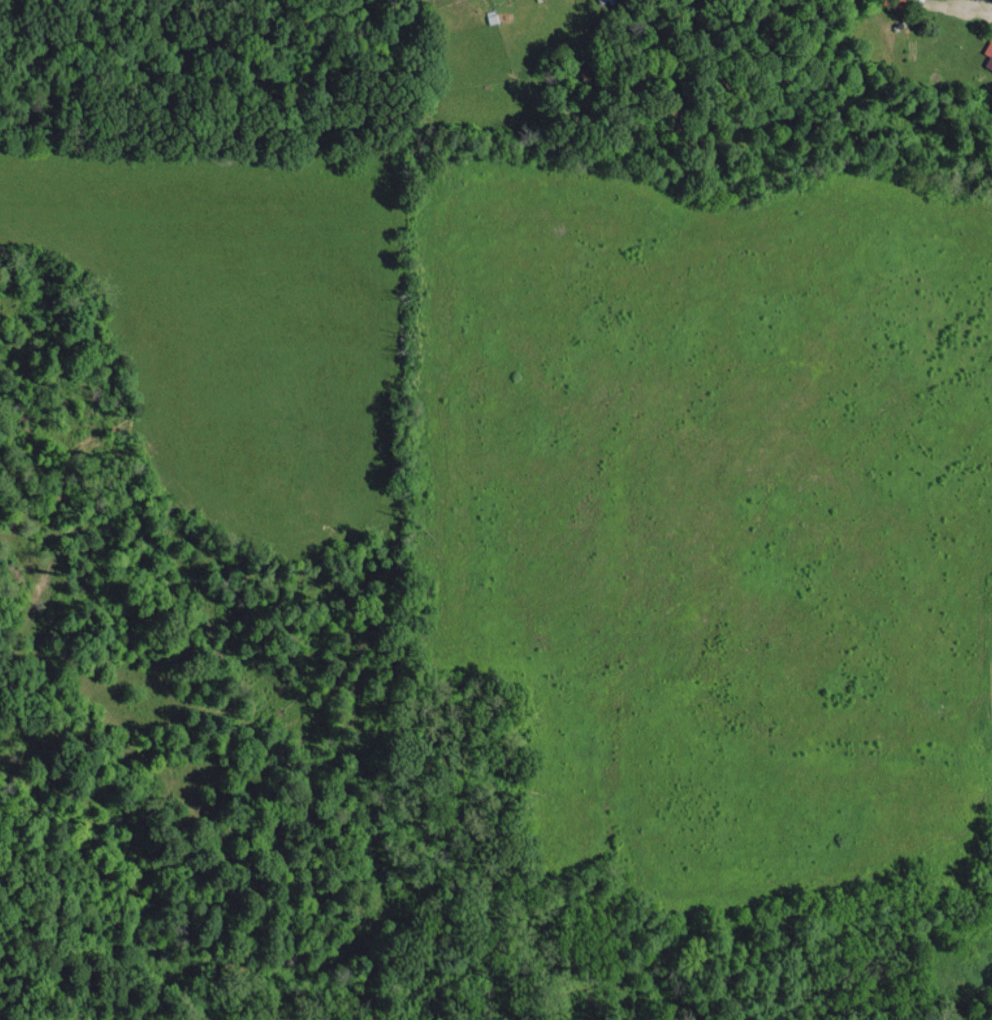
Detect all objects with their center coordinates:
road: (980, 2)
building: (989, 62)

